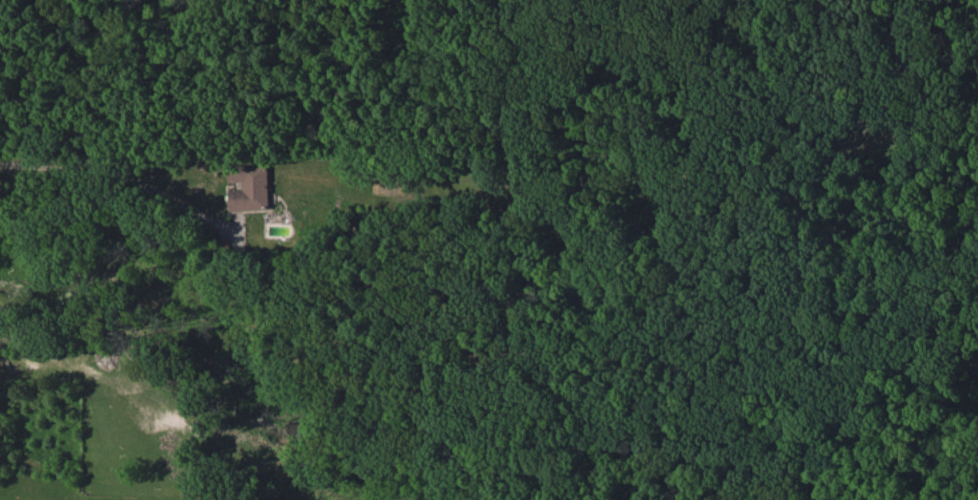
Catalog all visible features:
road: (117, 173)
building: (250, 186)

